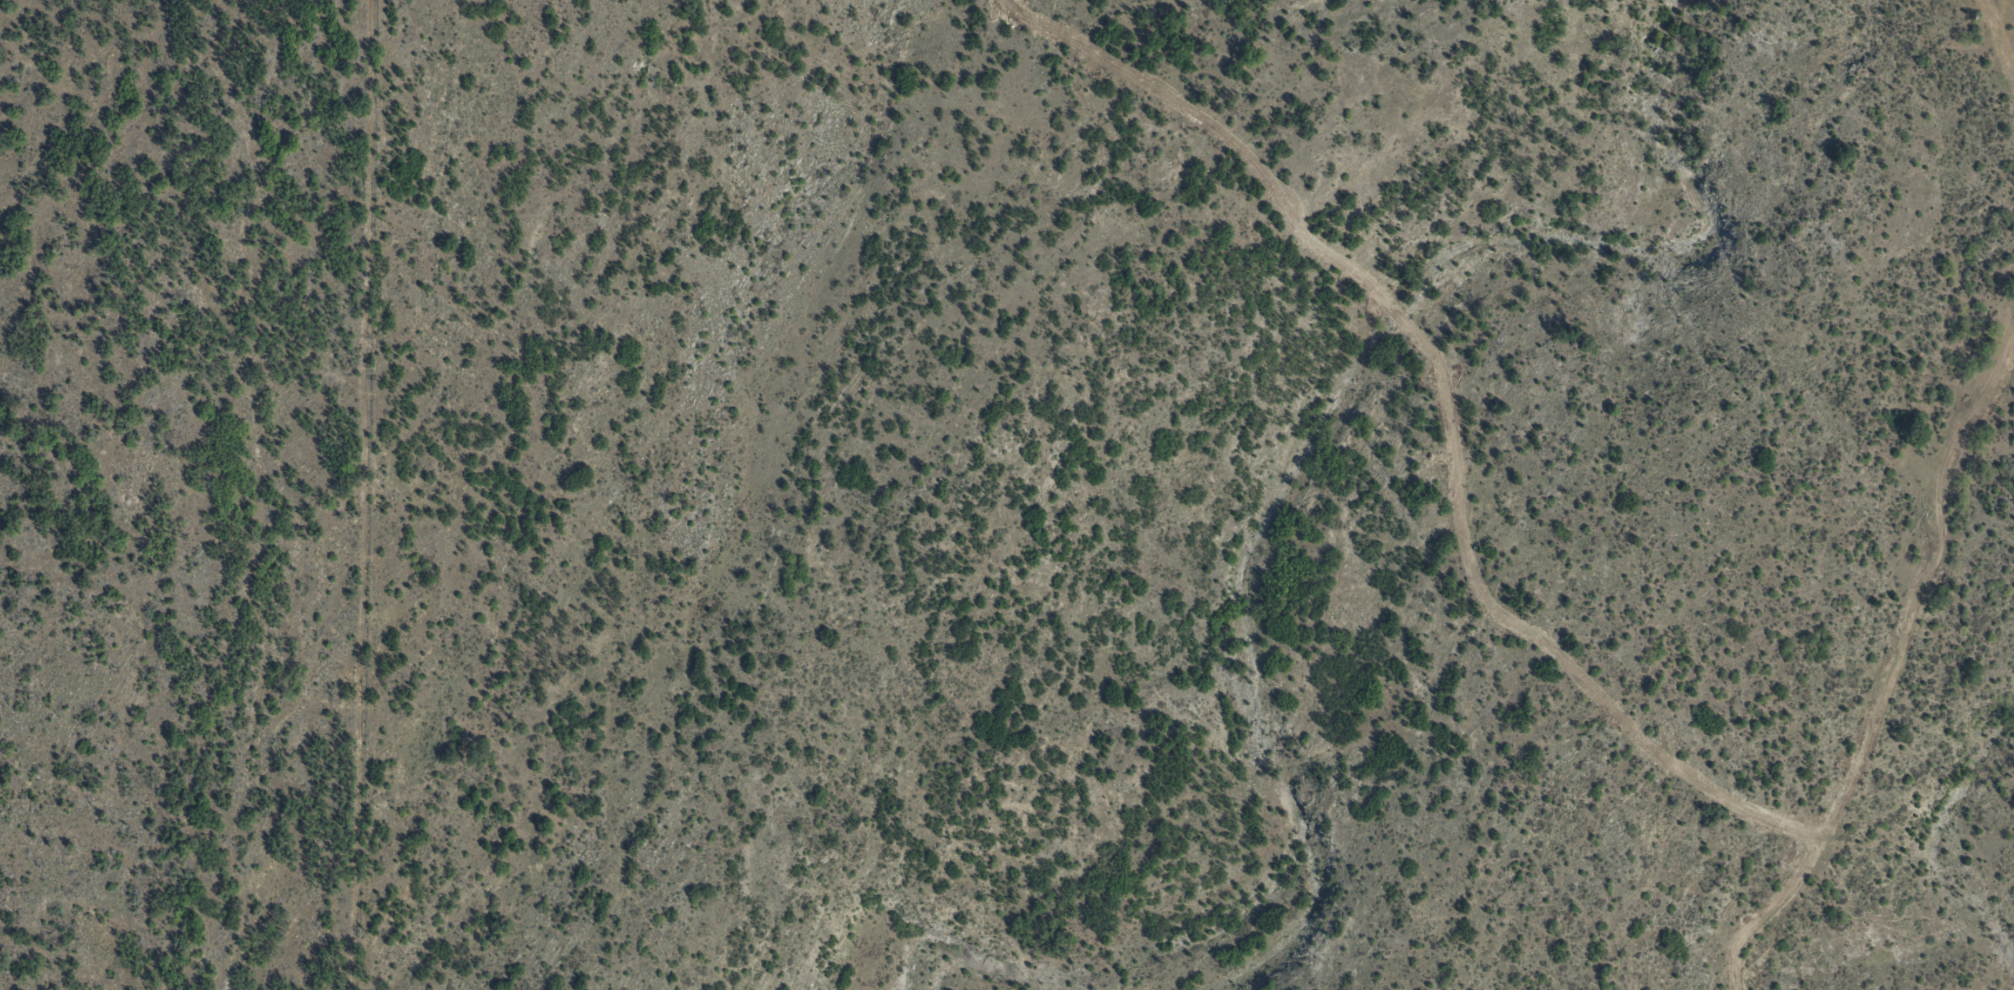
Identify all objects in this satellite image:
road: (1984, 32)
road: (1933, 689)

